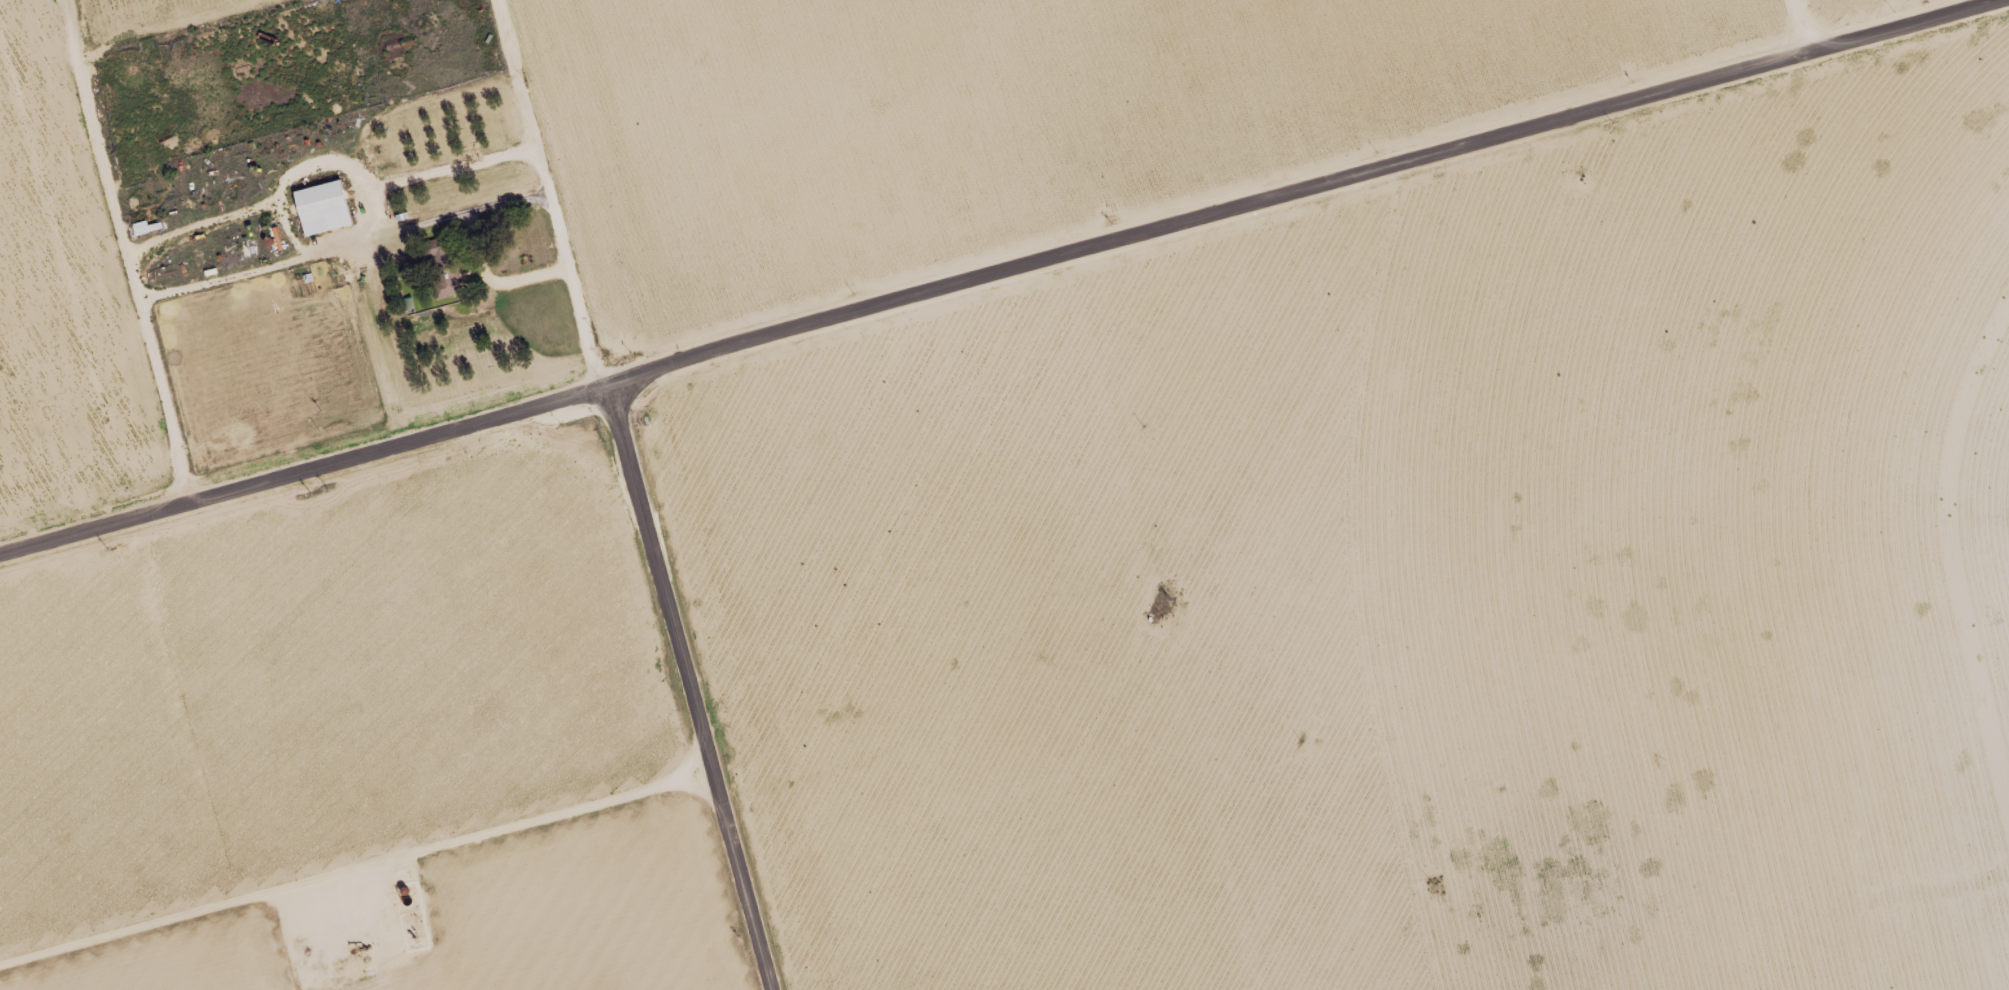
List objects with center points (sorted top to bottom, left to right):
road: (305, 168)
road: (554, 193)
building: (326, 206)
road: (381, 212)
road: (294, 229)
road: (249, 271)
road: (500, 279)
road: (1004, 279)
road: (693, 688)

